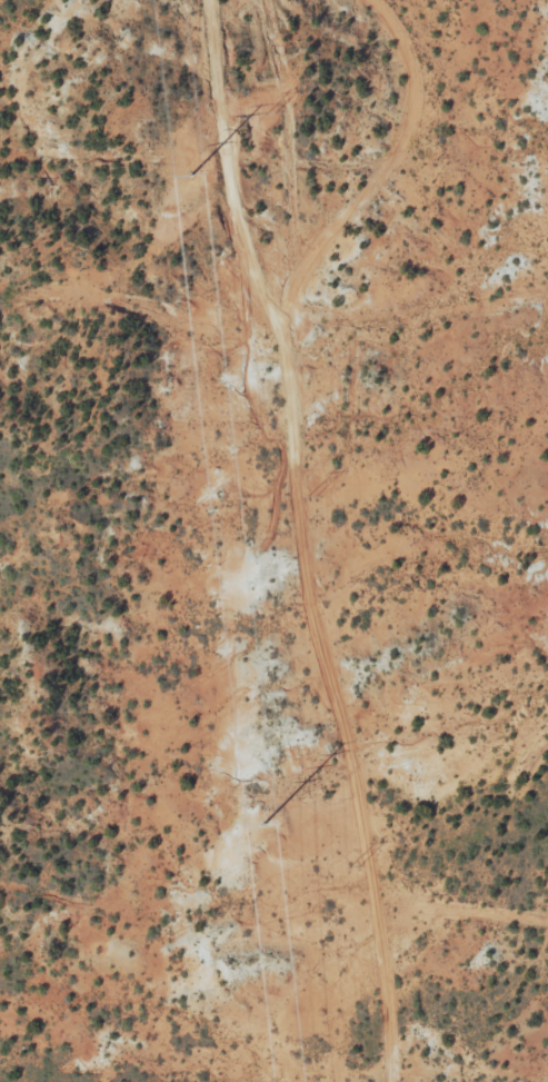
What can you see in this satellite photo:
power tower: (270, 113)
power tower: (190, 173)
power tower: (315, 500)
power tower: (263, 824)
power tower: (353, 862)

